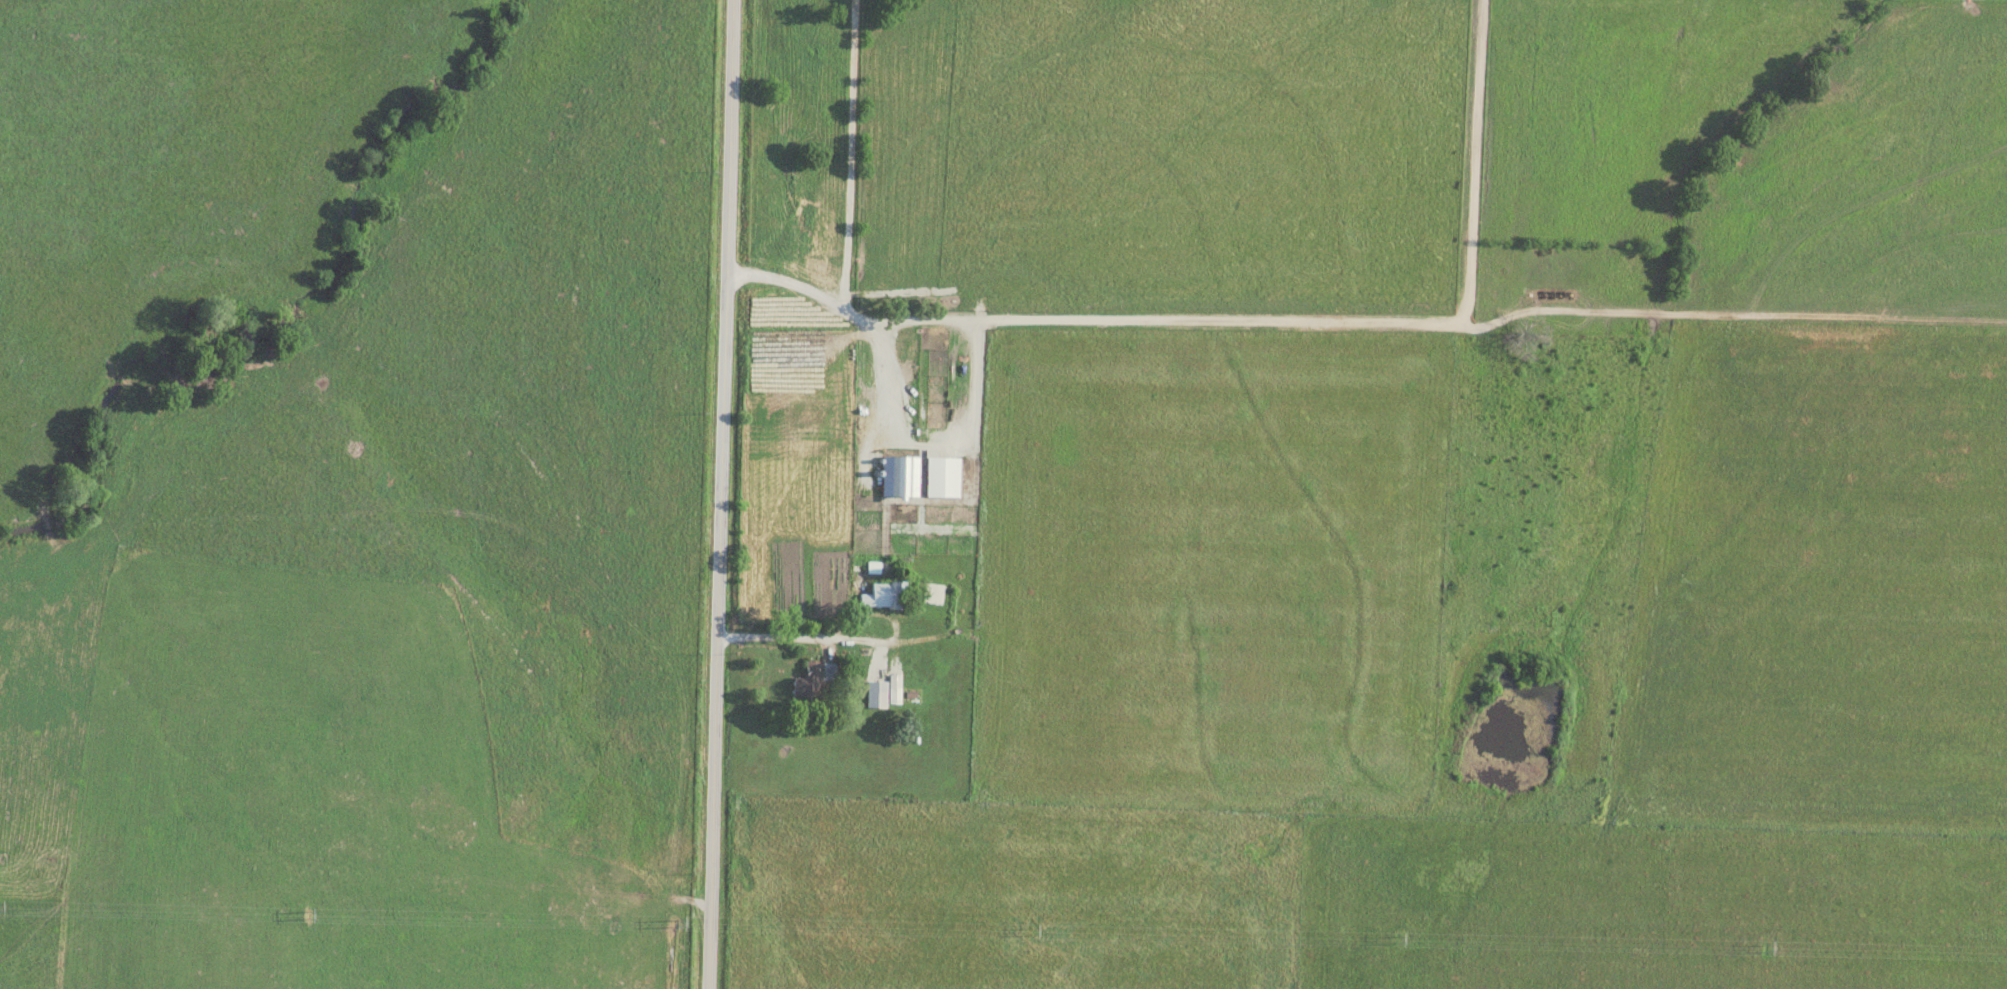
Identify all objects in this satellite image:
road: (853, 316)
road: (721, 396)
building: (900, 476)
building: (884, 595)
road: (919, 641)
building: (806, 685)
building: (876, 694)
road: (711, 891)

